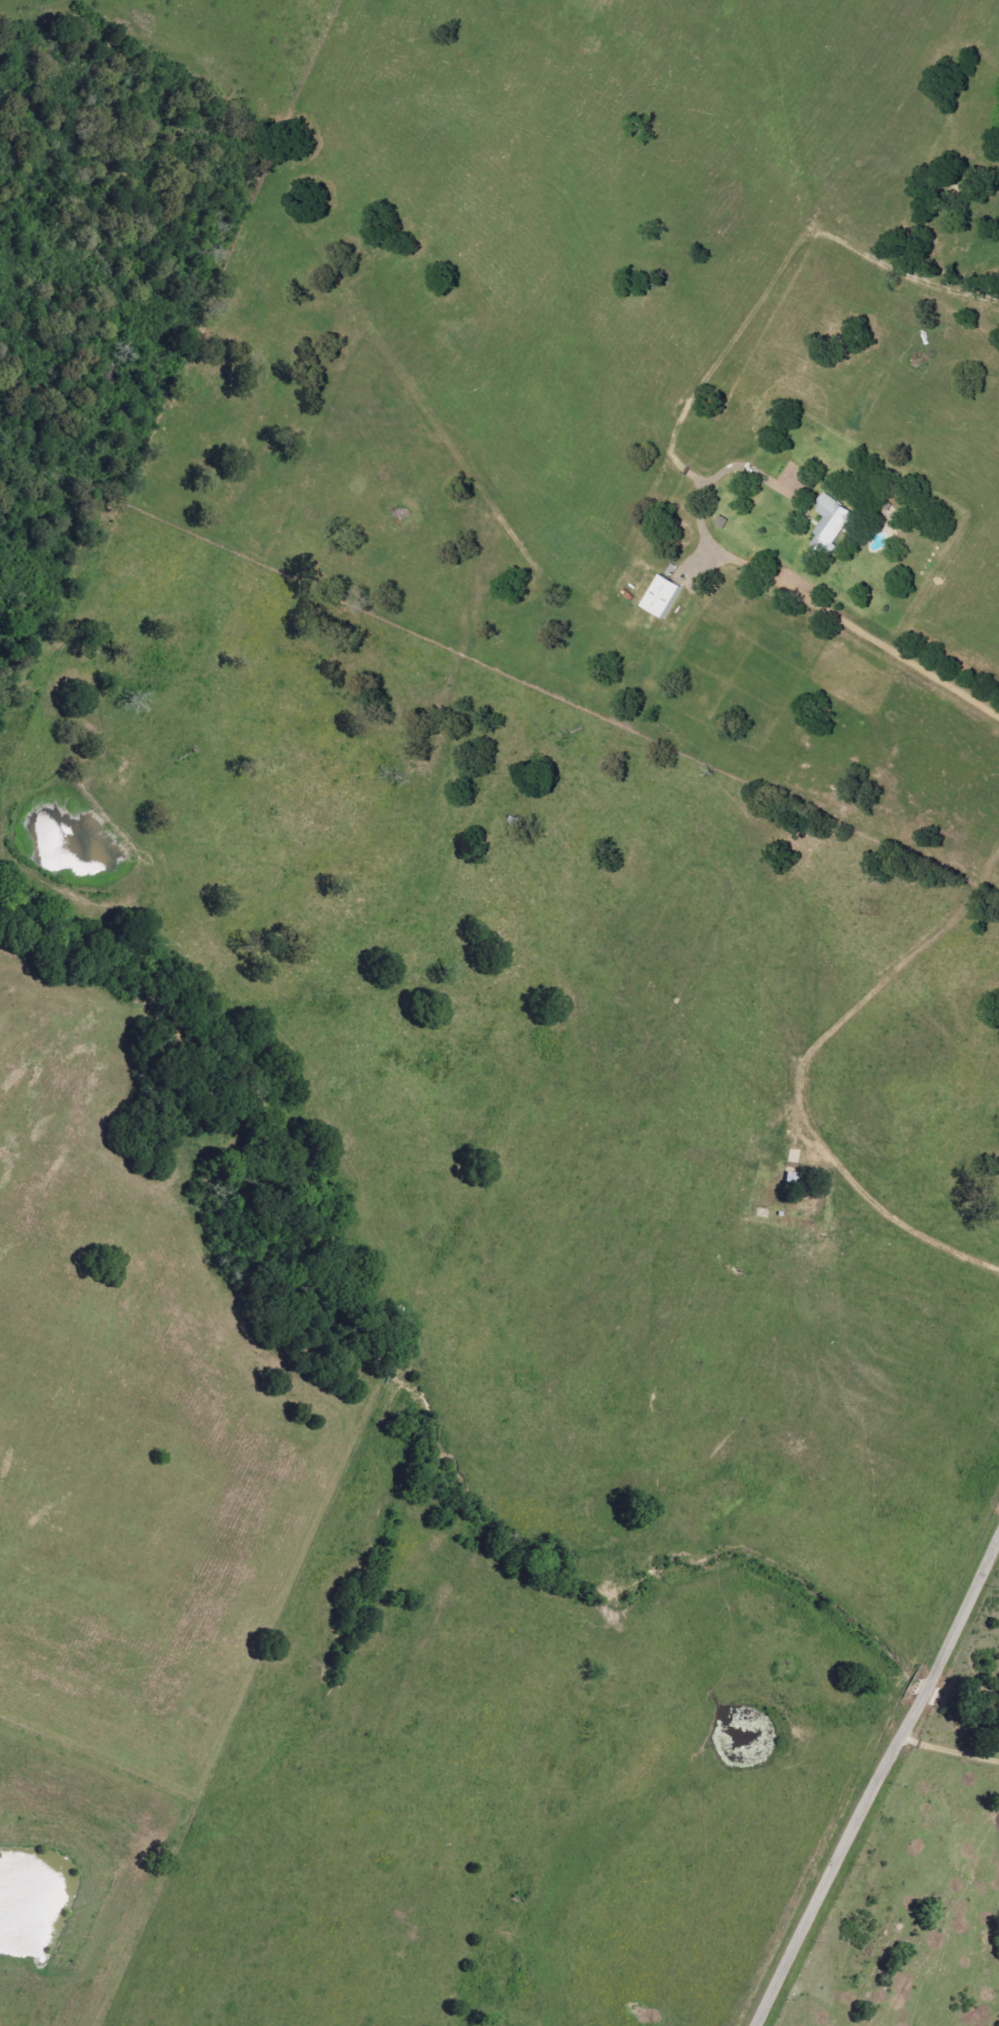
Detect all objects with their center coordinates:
road: (764, 301)
road: (751, 470)
building: (837, 525)
building: (670, 597)
road: (852, 634)
road: (885, 1184)
road: (877, 1781)

